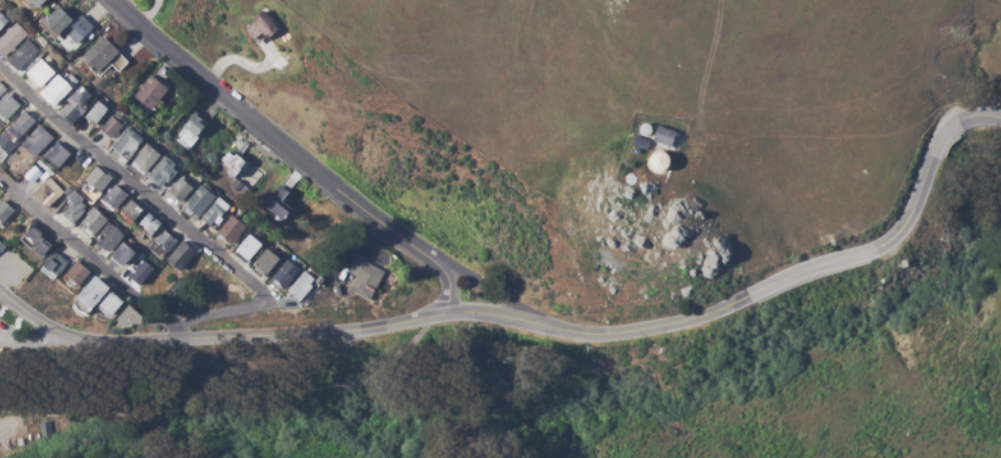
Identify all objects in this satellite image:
building: (1, 23)
building: (71, 26)
building: (259, 28)
building: (15, 47)
building: (102, 57)
building: (44, 73)
building: (1, 90)
building: (59, 90)
building: (149, 92)
building: (8, 107)
building: (21, 125)
building: (188, 133)
building: (666, 137)
building: (640, 143)
building: (46, 146)
road: (292, 155)
building: (661, 161)
building: (243, 170)
building: (32, 172)
building: (162, 173)
building: (97, 179)
building: (113, 197)
building: (281, 203)
building: (69, 207)
building: (5, 211)
road: (168, 214)
building: (231, 229)
building: (158, 234)
building: (108, 237)
building: (43, 245)
building: (1, 249)
road: (85, 254)
building: (131, 263)
building: (56, 264)
building: (275, 267)
building: (363, 277)
road: (486, 288)
building: (104, 298)
building: (133, 318)
road: (537, 325)
road: (177, 332)
road: (228, 399)
building: (42, 430)

